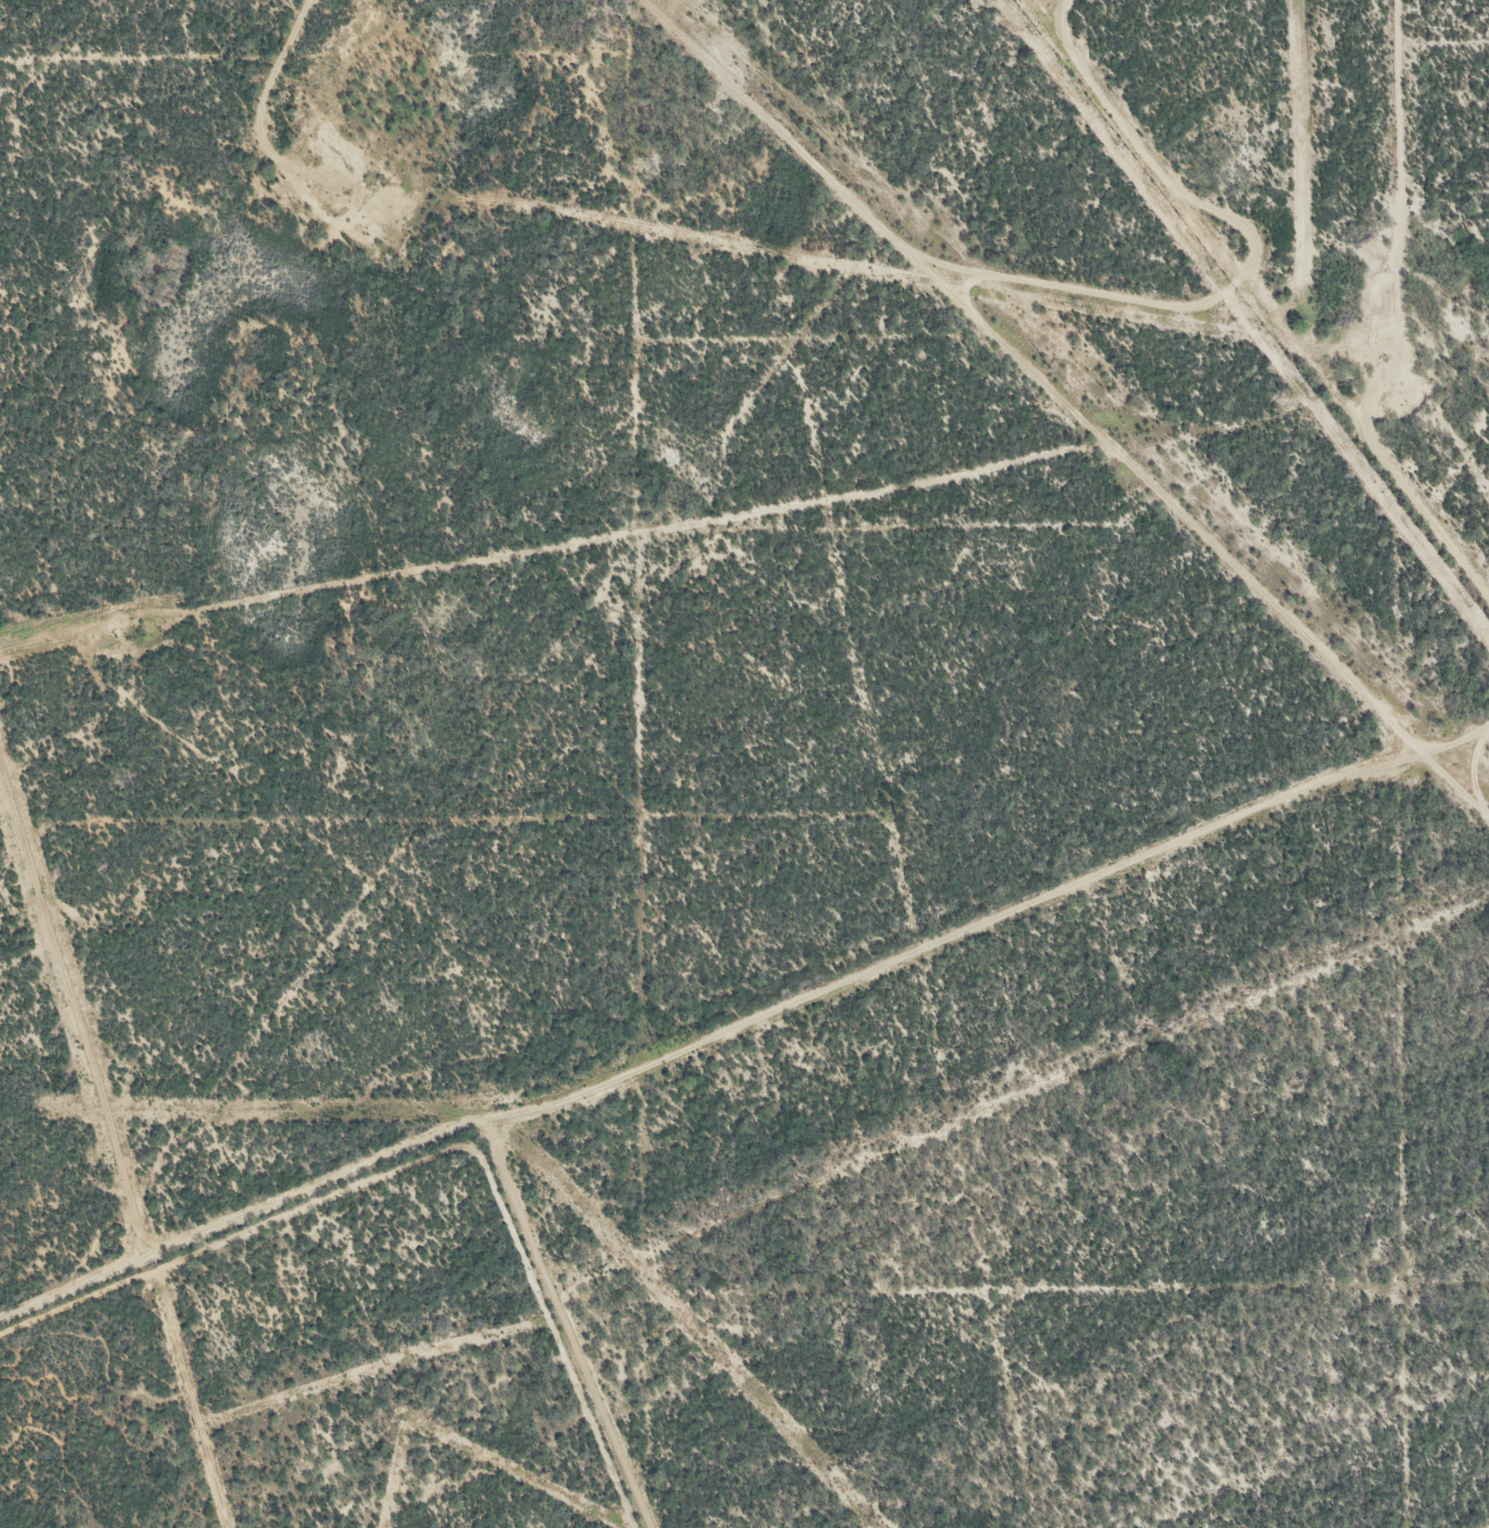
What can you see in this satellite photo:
power tower: (801, 132)
power tower: (1049, 370)
power tower: (1299, 608)

